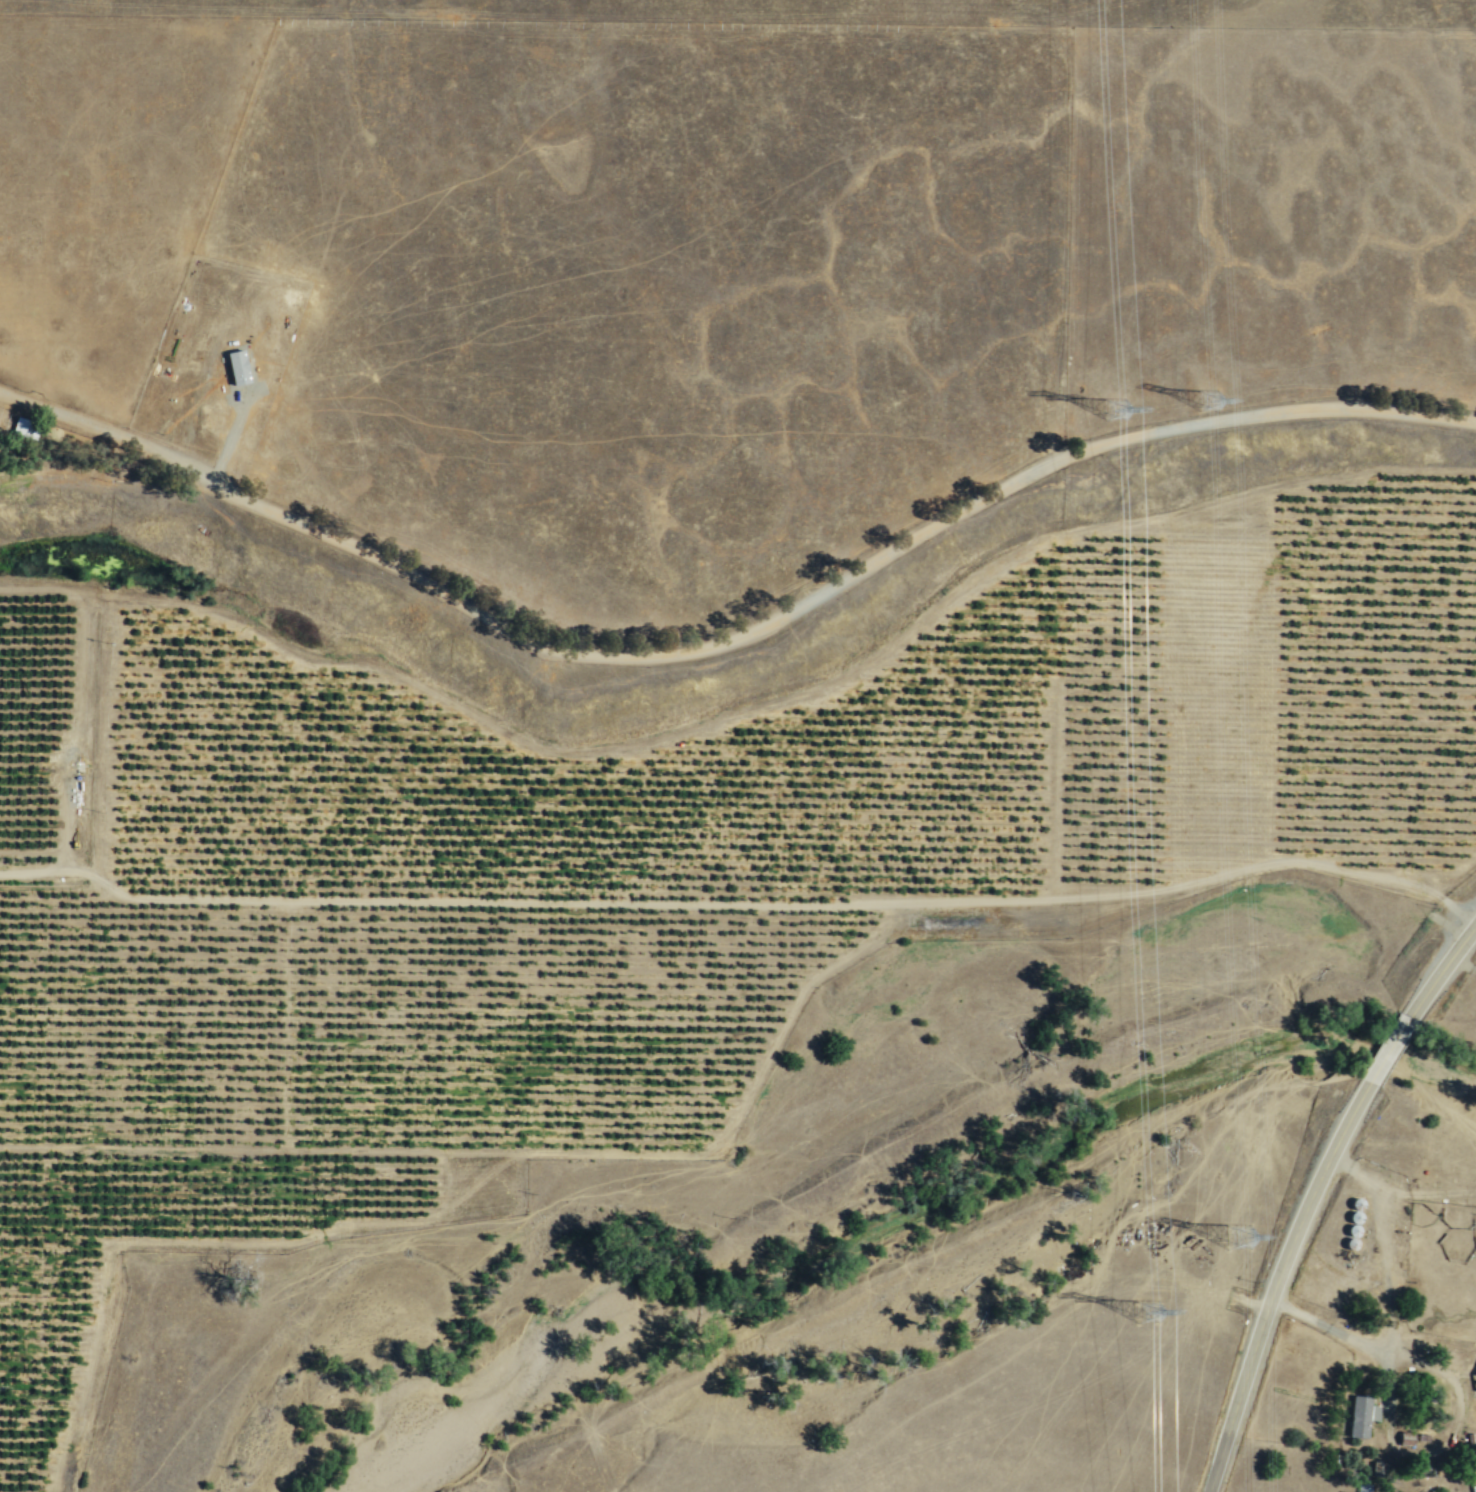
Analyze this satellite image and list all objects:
power tower: (1204, 398)
power tower: (1108, 408)
road: (230, 435)
road: (733, 638)
road: (743, 904)
road: (1442, 971)
river: (1390, 1048)
road: (1389, 1050)
river: (1437, 1064)
road: (1398, 1192)
power tower: (1241, 1232)
river: (870, 1239)
road: (1390, 1272)
road: (1277, 1282)
power tower: (1150, 1315)
road: (1430, 1318)
road: (1329, 1327)
road: (1007, 1349)
building: (1474, 1381)
building: (1359, 1418)
road: (1444, 1450)
building: (1474, 1453)

